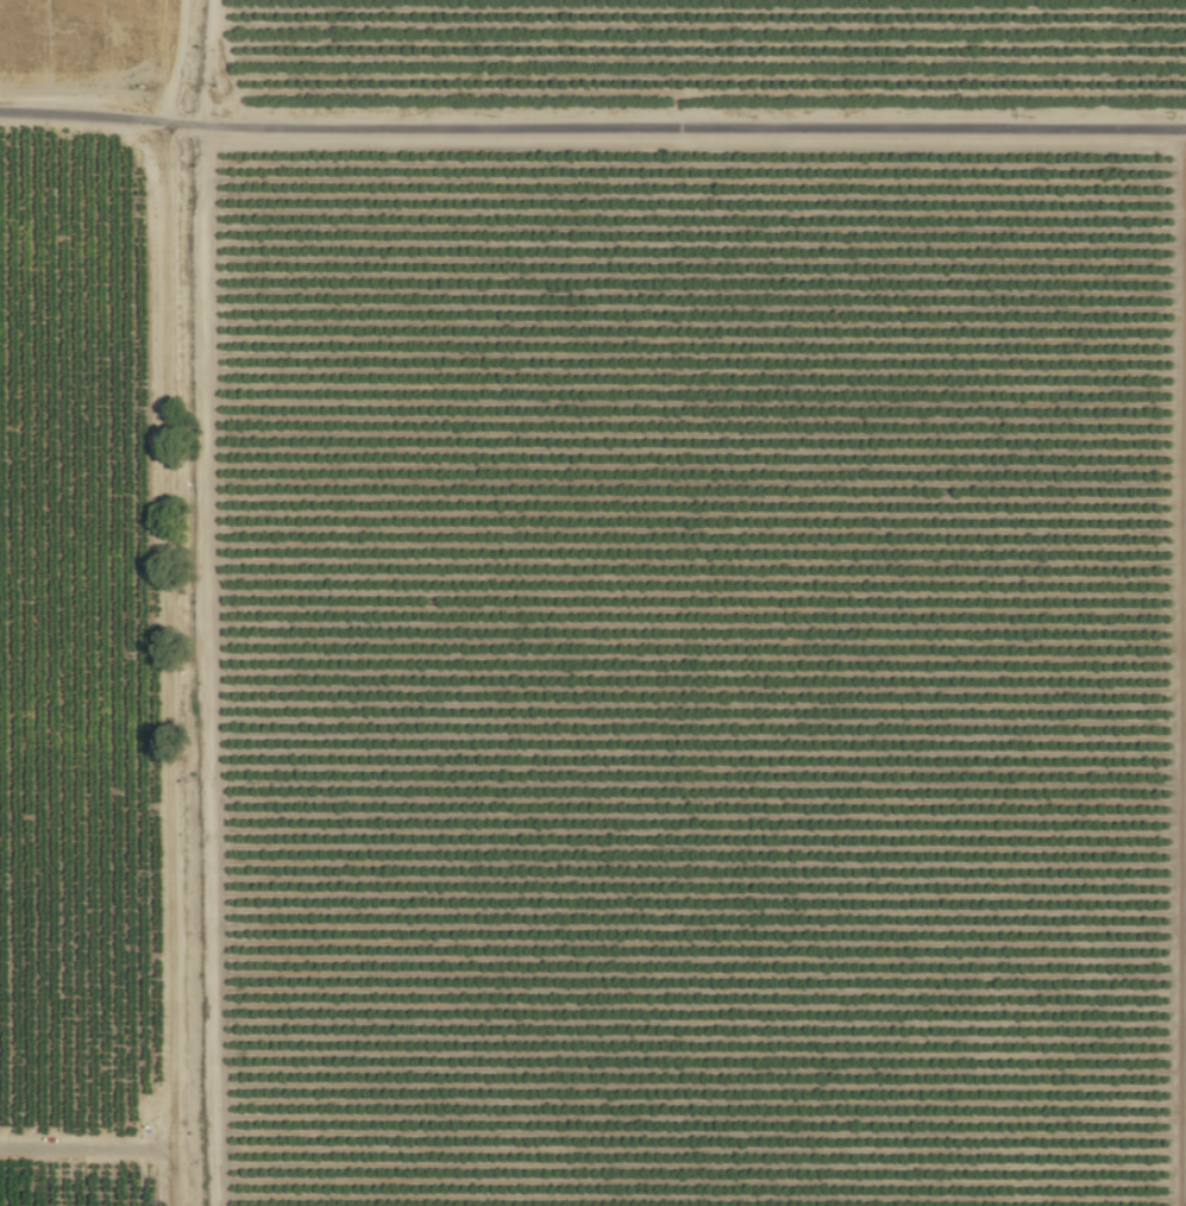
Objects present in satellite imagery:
crop: (87, 38)
road: (197, 61)
road: (131, 114)
road: (723, 134)
crop: (698, 602)
road: (165, 660)

